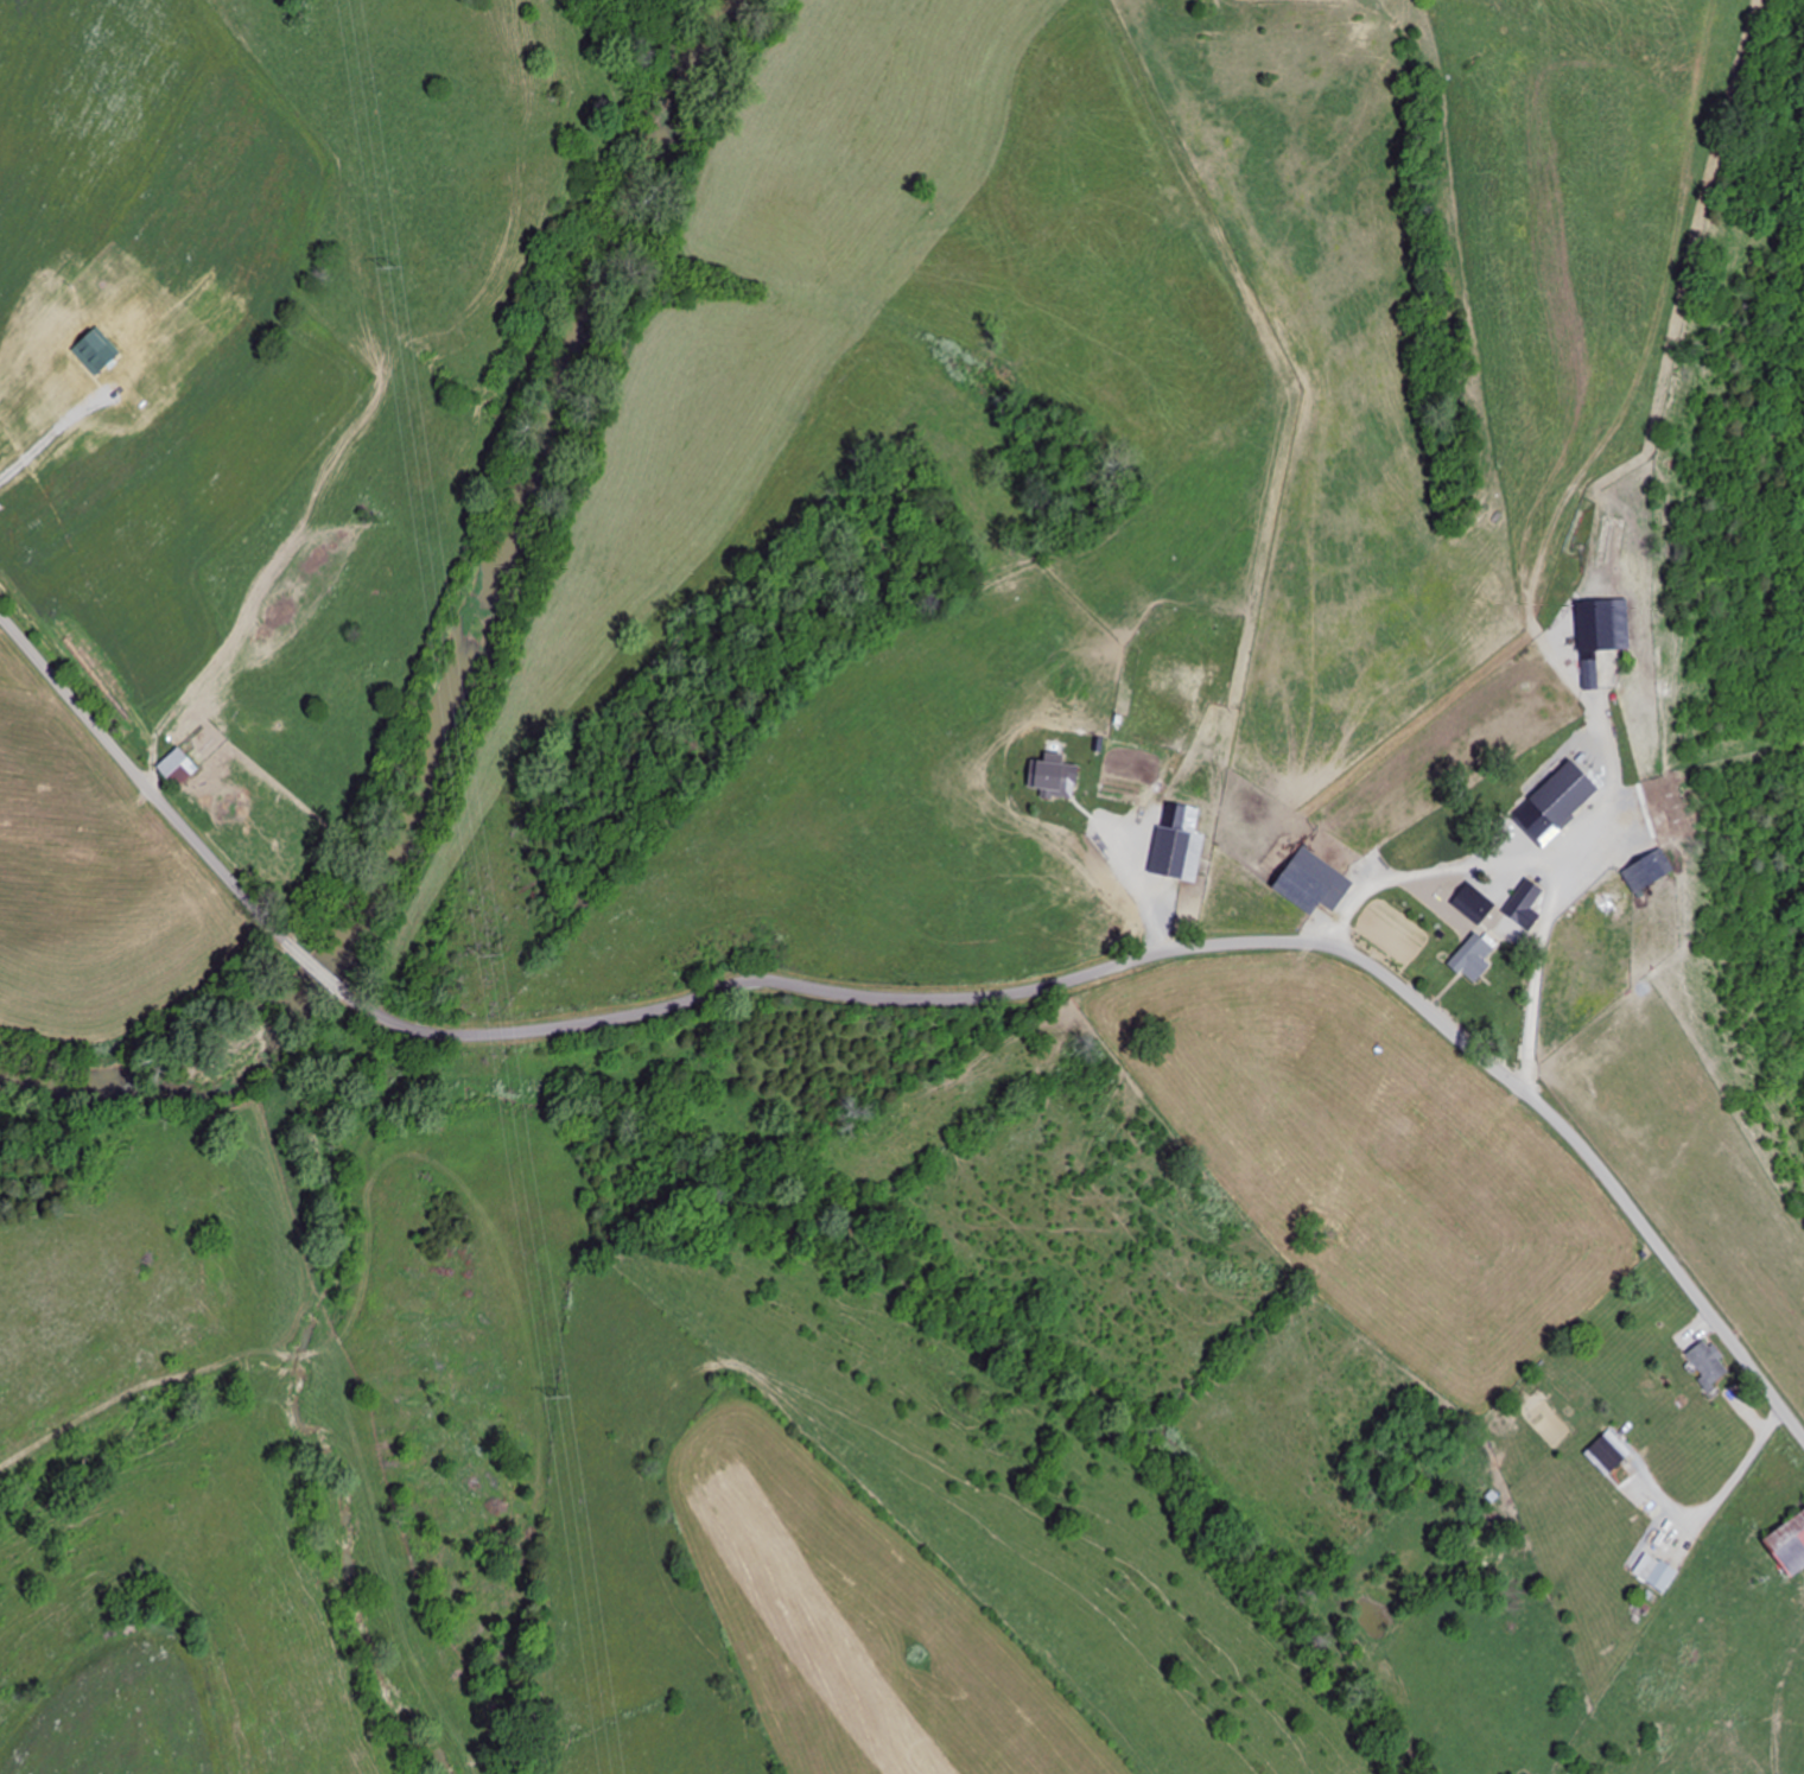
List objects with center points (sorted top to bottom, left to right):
building: (1611, 637)
river: (458, 654)
building: (182, 768)
road: (132, 771)
building: (1127, 778)
building: (1561, 803)
building: (1179, 856)
building: (1652, 873)
building: (1316, 880)
building: (1529, 896)
road: (1165, 953)
road: (301, 956)
building: (1476, 959)
building: (1710, 1366)
building: (1611, 1455)
building: (1791, 1543)
building: (1658, 1573)

